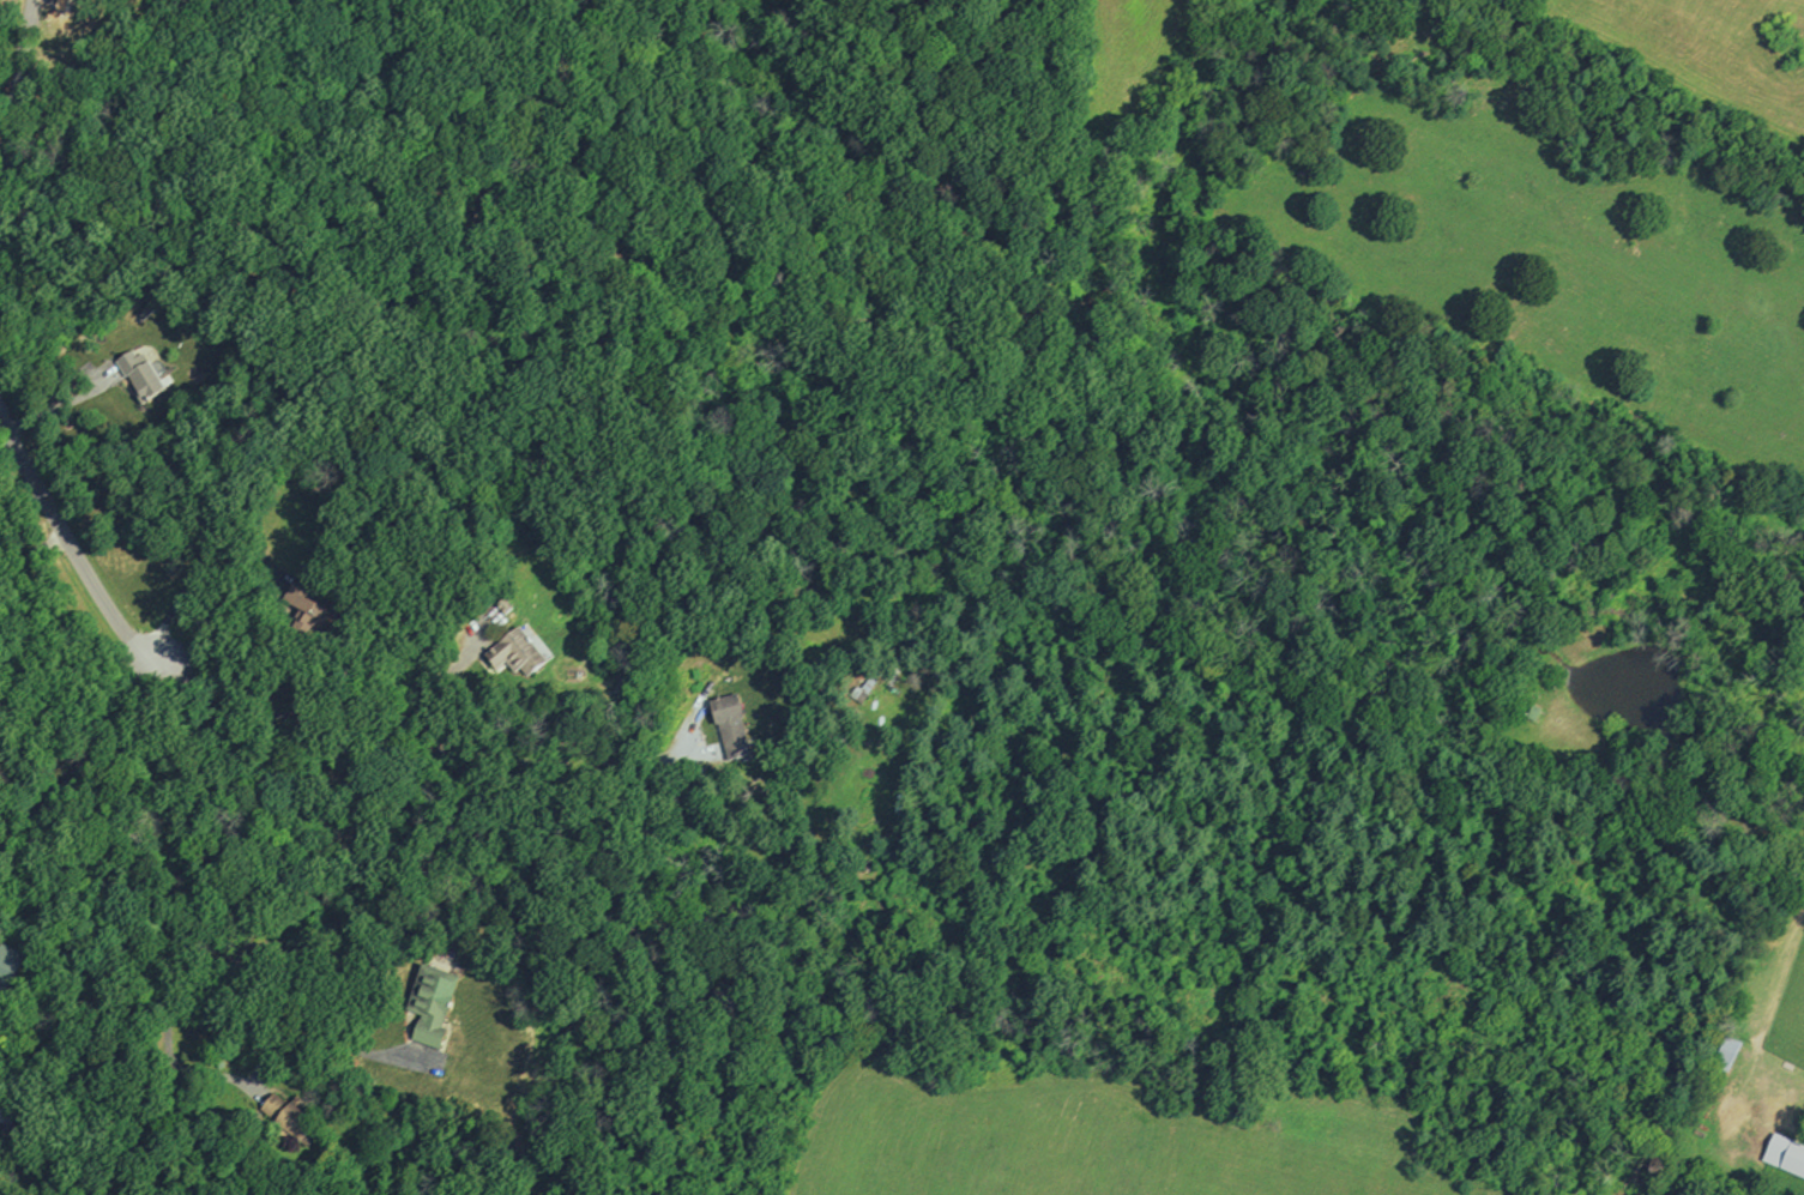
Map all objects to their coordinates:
building: (62, 7)
road: (14, 101)
building: (141, 380)
road: (62, 404)
road: (71, 548)
road: (32, 550)
road: (187, 585)
building: (502, 605)
building: (303, 608)
building: (515, 654)
road: (336, 689)
building: (729, 724)
road: (446, 749)
road: (80, 760)
road: (216, 958)
building: (8, 964)
building: (429, 1001)
road: (165, 1022)
building: (1726, 1051)
building: (290, 1113)
building: (14, 1148)
building: (1785, 1152)

